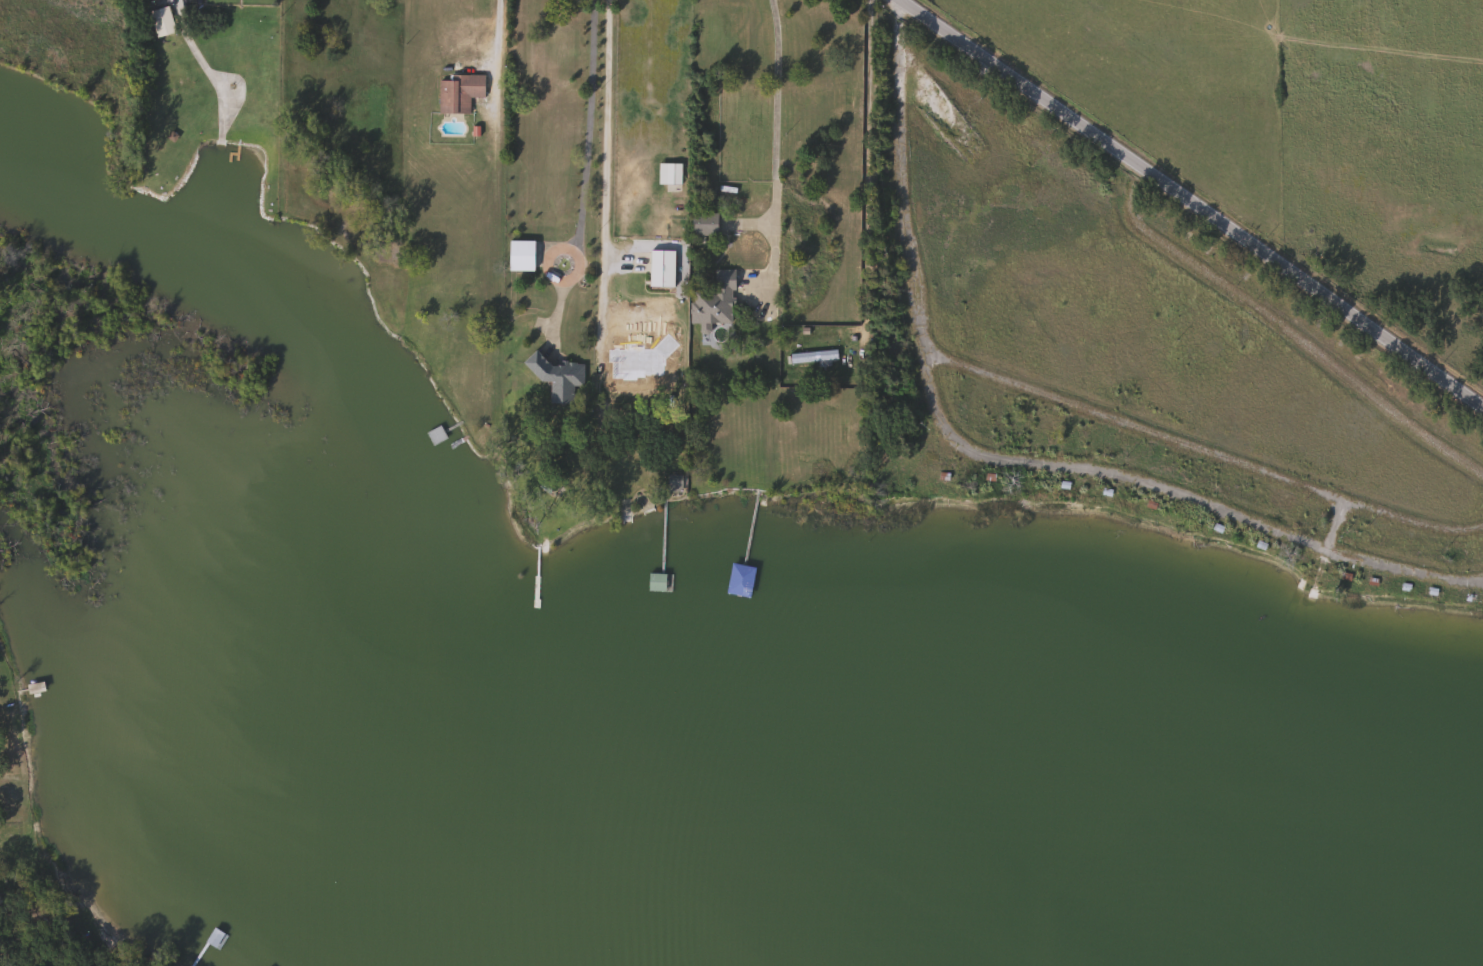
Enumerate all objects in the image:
road: (177, 16)
building: (159, 22)
road: (494, 40)
building: (457, 93)
road: (604, 131)
road: (772, 156)
road: (582, 171)
building: (667, 174)
road: (1197, 200)
building: (519, 256)
building: (659, 269)
building: (712, 303)
building: (811, 358)
building: (630, 374)
building: (556, 378)
road: (1003, 453)
building: (672, 485)

